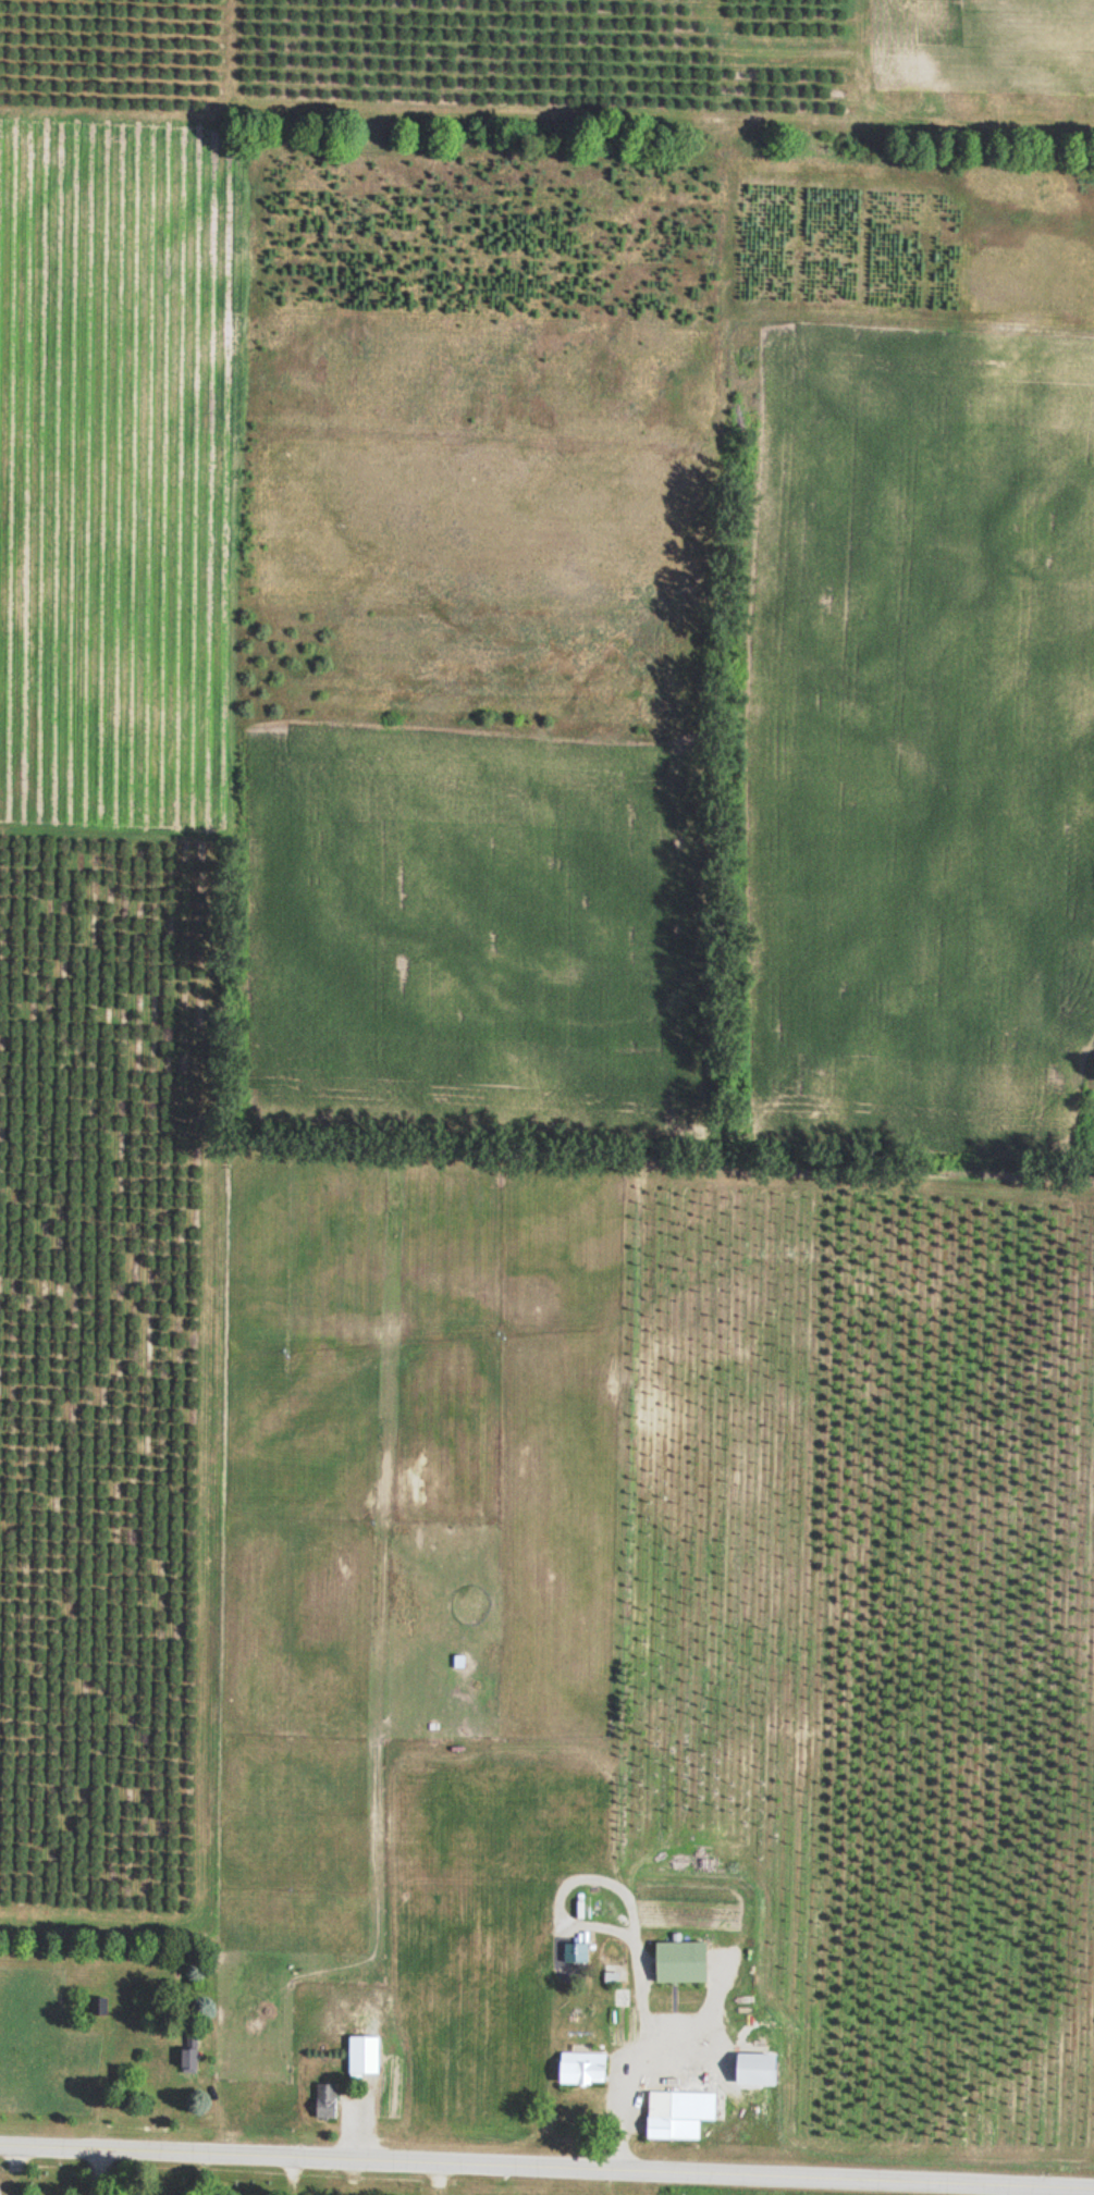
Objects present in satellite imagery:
building: (574, 1954)
building: (676, 1963)
building: (99, 2008)
building: (190, 2056)
building: (579, 2070)
building: (749, 2071)
building: (355, 2075)
building: (324, 2102)
building: (675, 2114)
road: (546, 2169)

